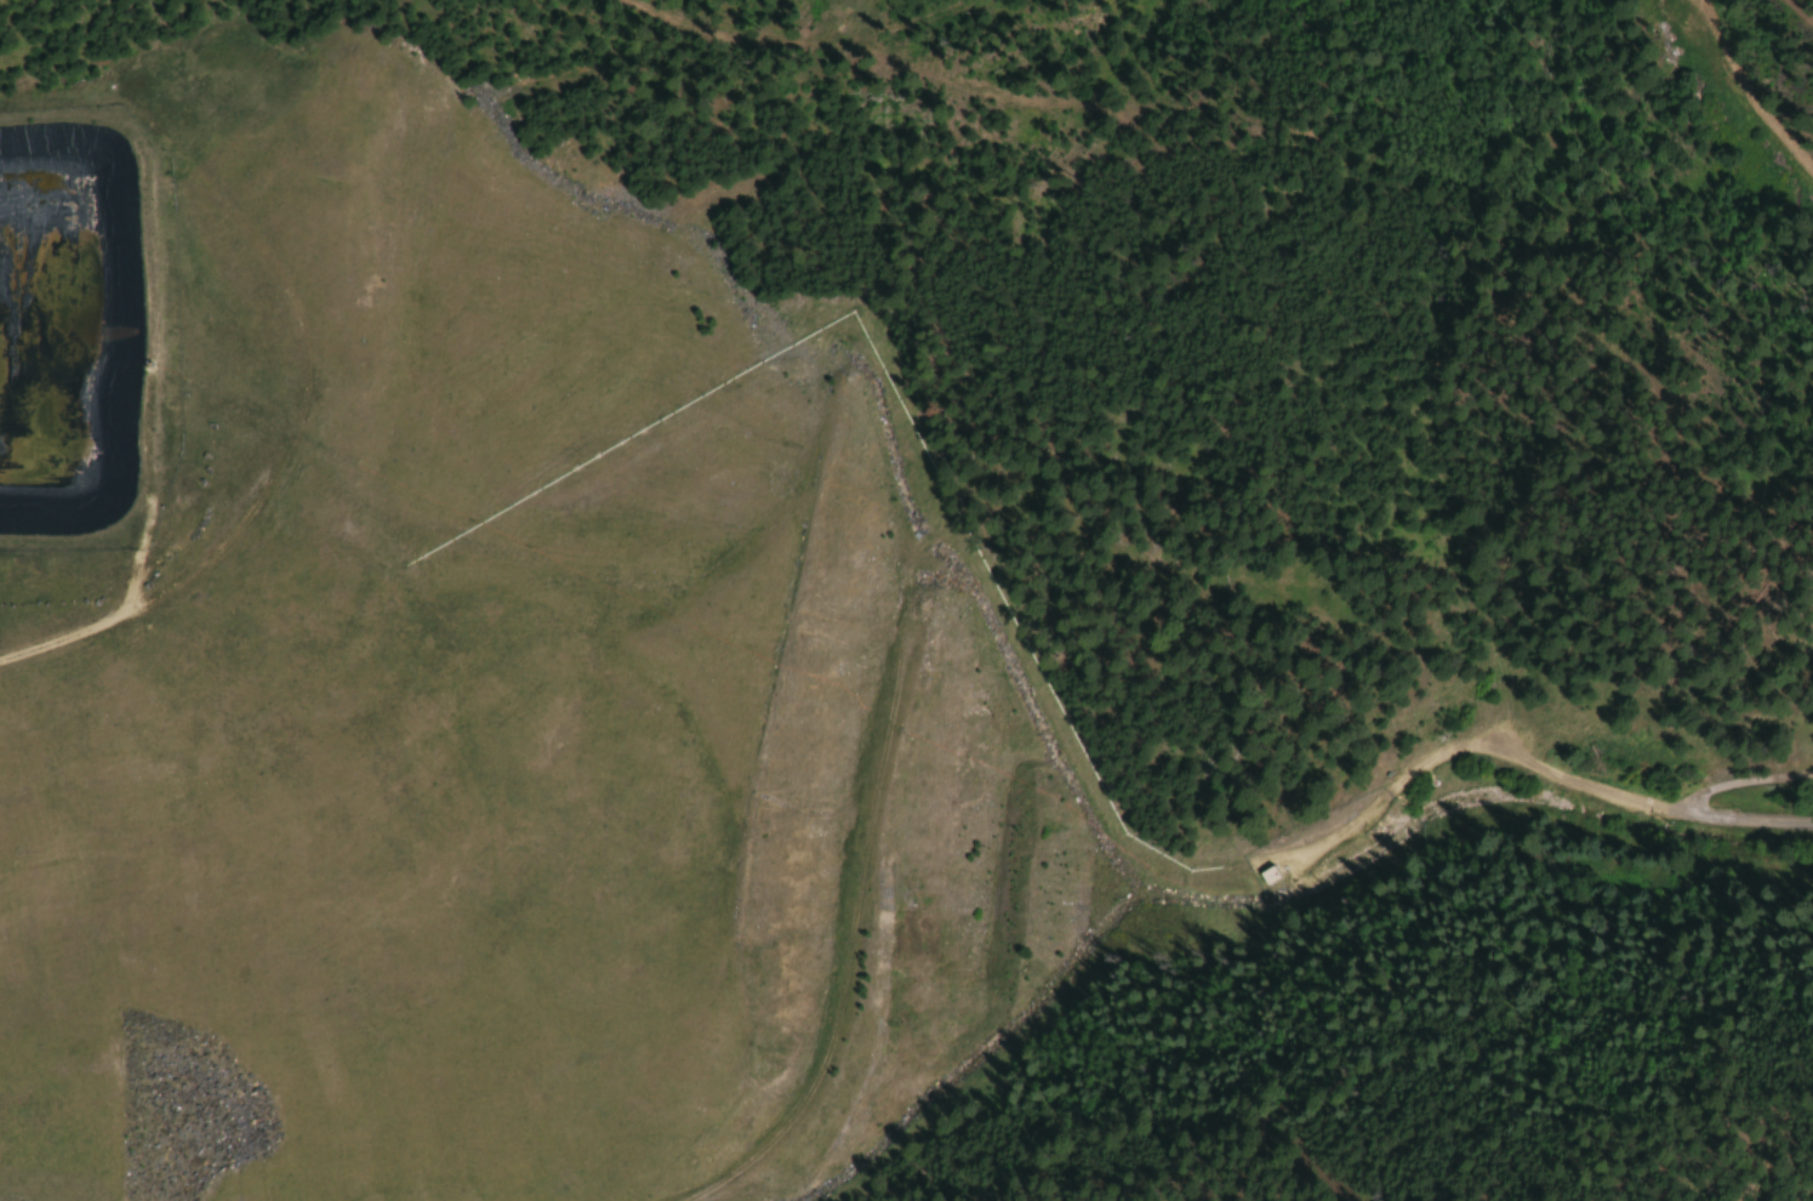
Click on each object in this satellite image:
road: (1537, 767)
road: (1743, 780)
building: (1264, 876)

